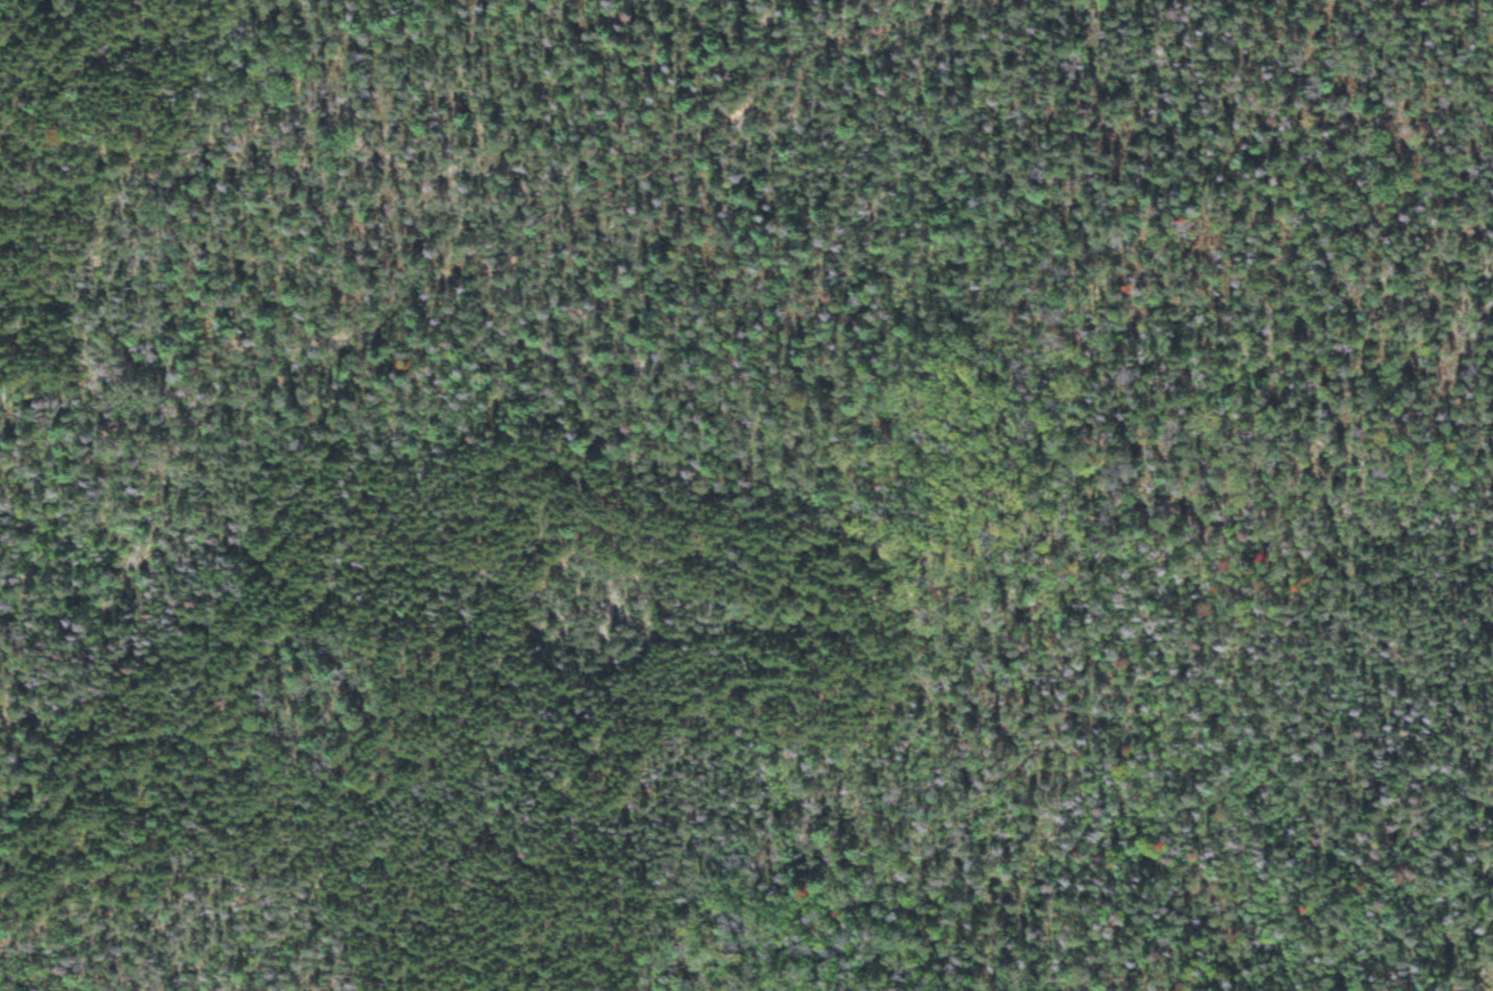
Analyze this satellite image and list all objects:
road: (446, 312)

